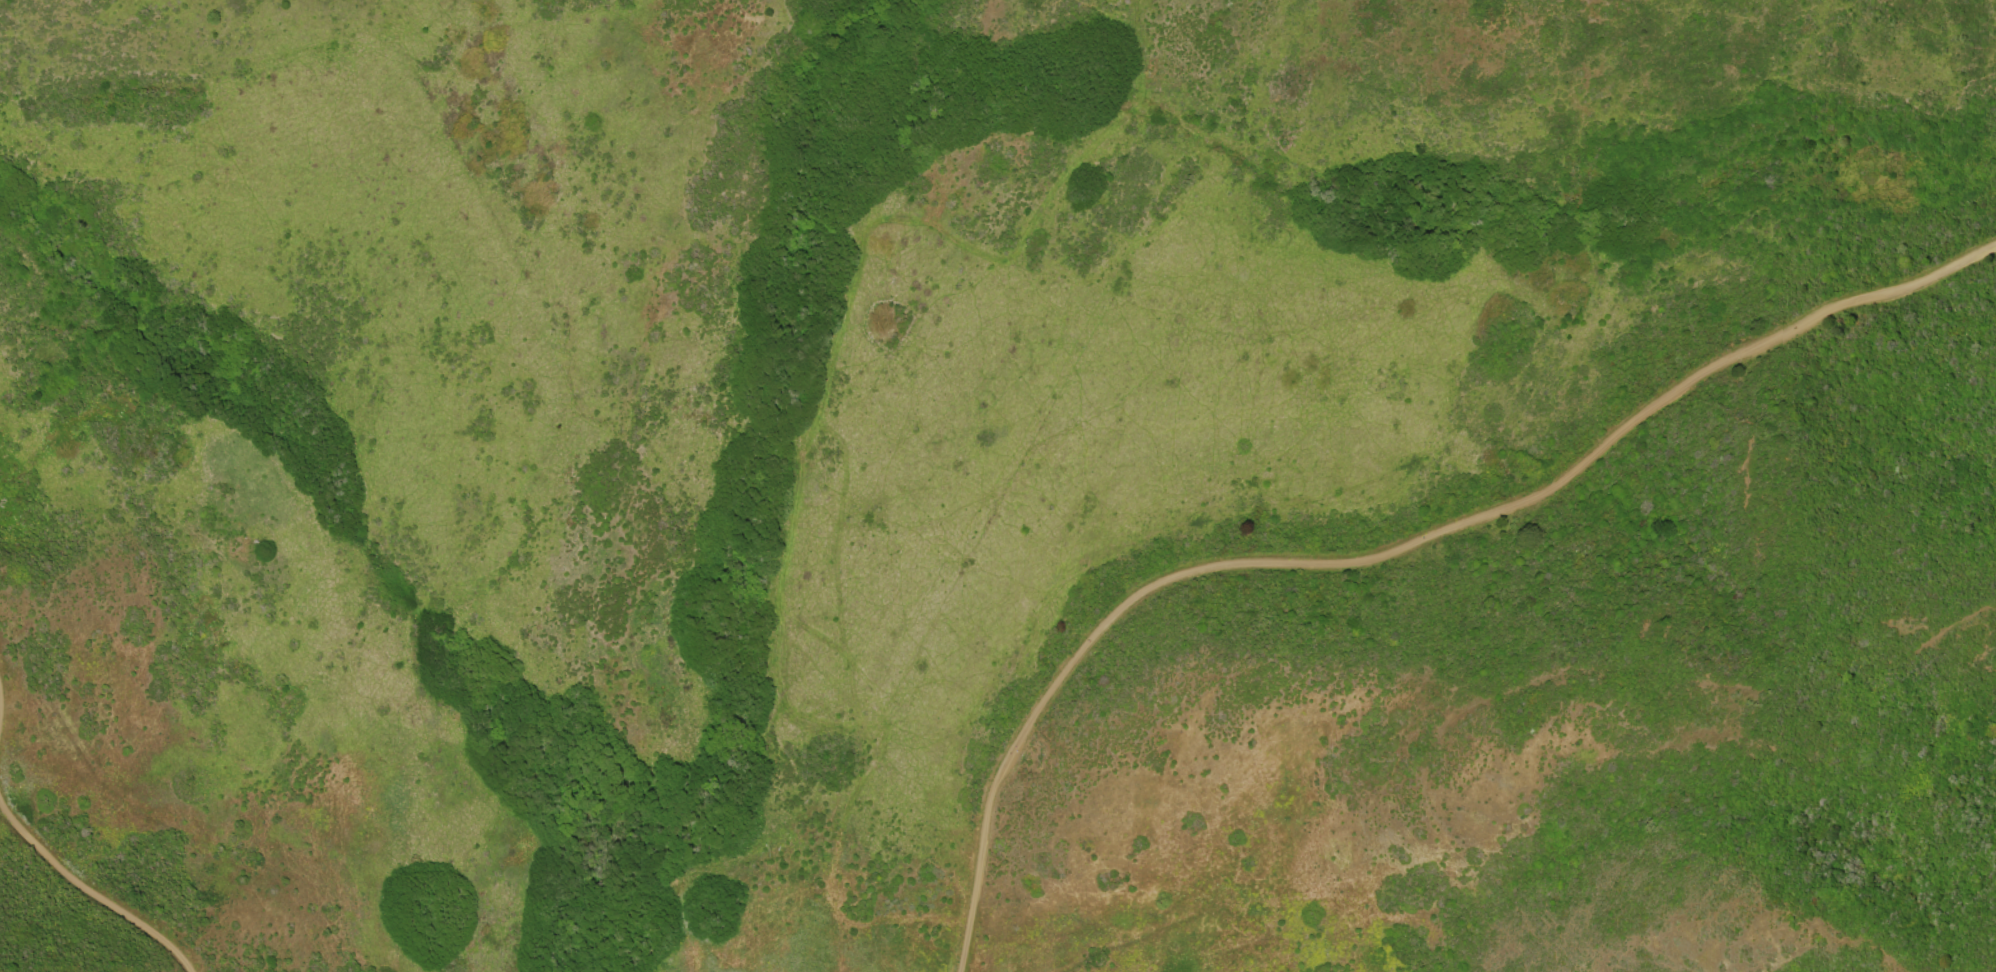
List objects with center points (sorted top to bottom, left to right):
road: (1387, 553)
road: (89, 900)

